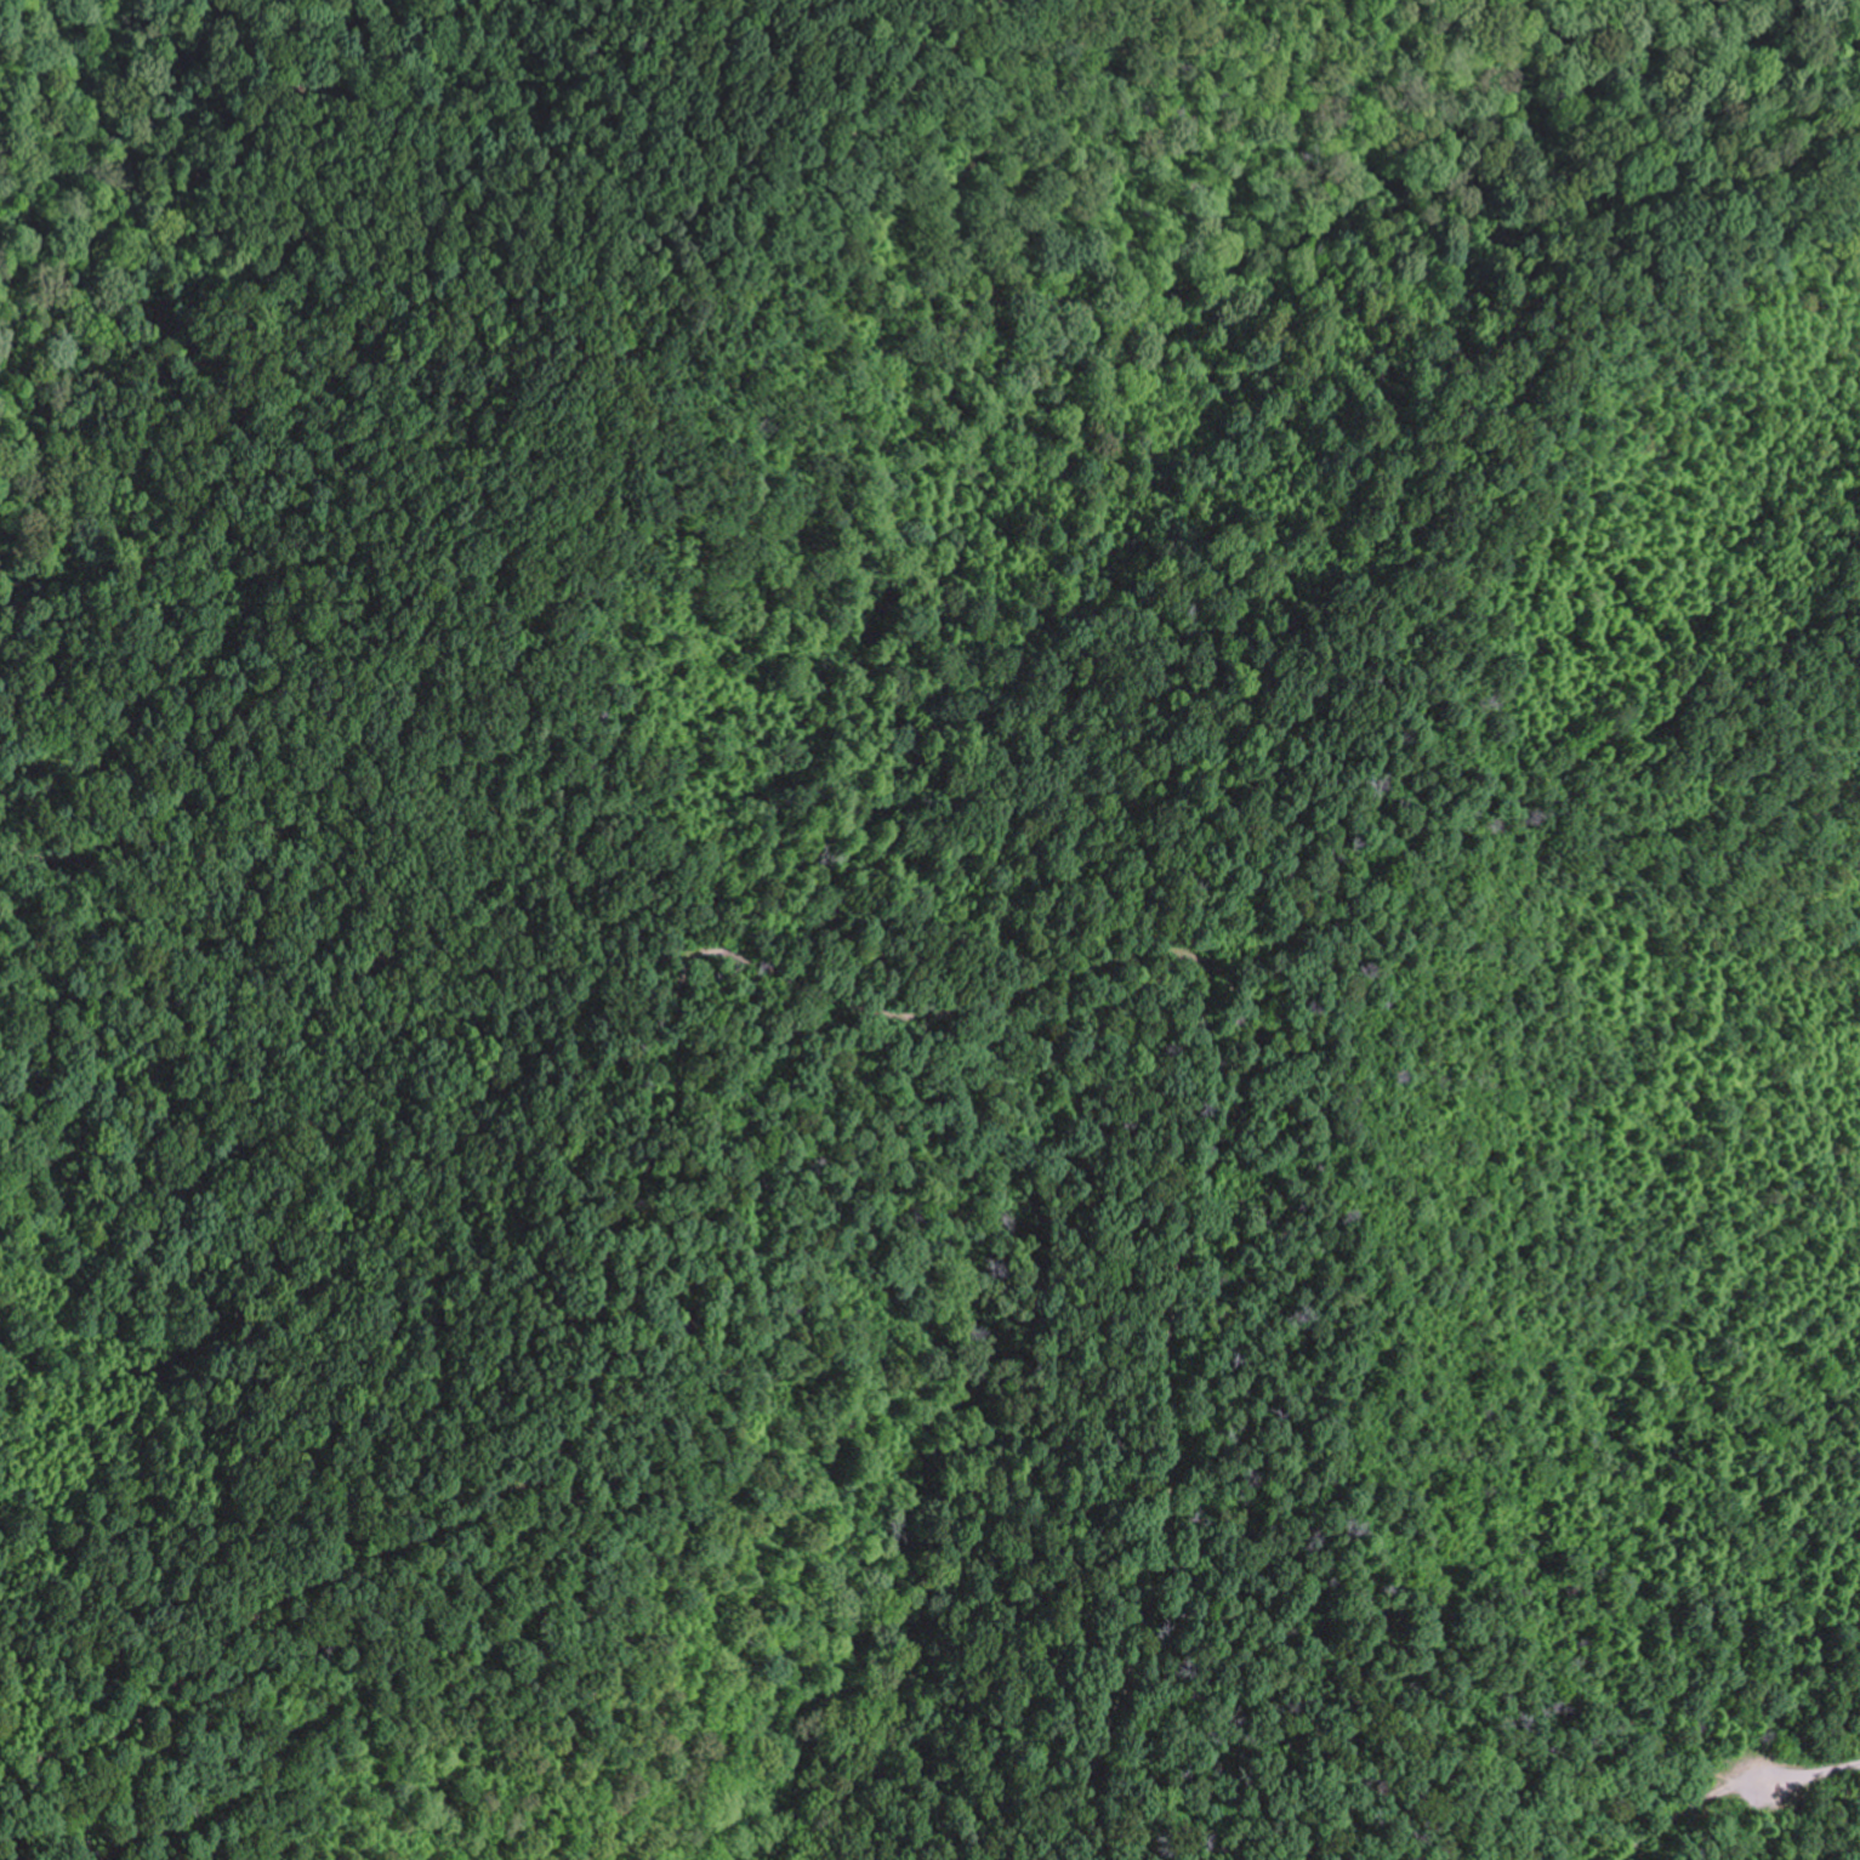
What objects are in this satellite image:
road: (841, 1001)
road: (721, 1348)
road: (1352, 1449)
road: (215, 1771)
road: (1813, 1773)
parking lot: (1750, 1799)
road: (1686, 1811)
road: (40, 1850)

